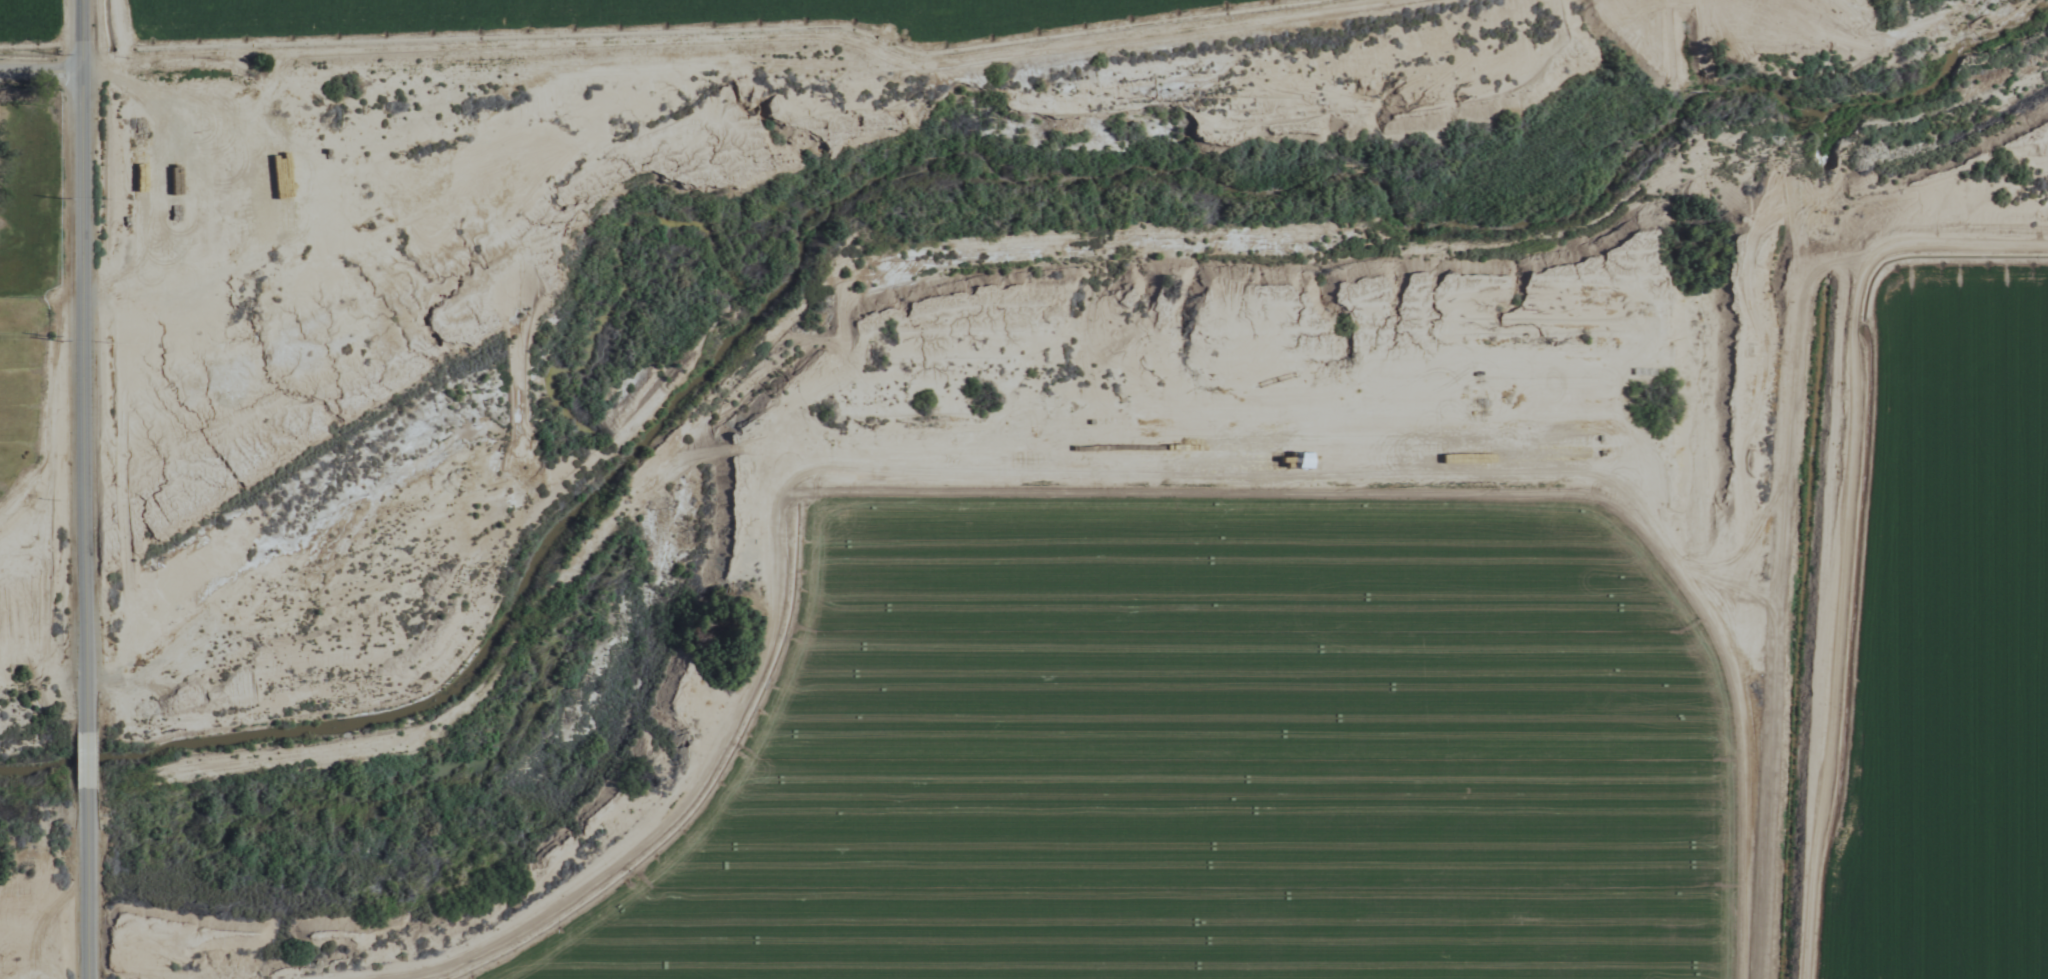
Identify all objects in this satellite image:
crop: (24, 3)
road: (52, 102)
road: (95, 366)
road: (83, 761)
road: (85, 885)

